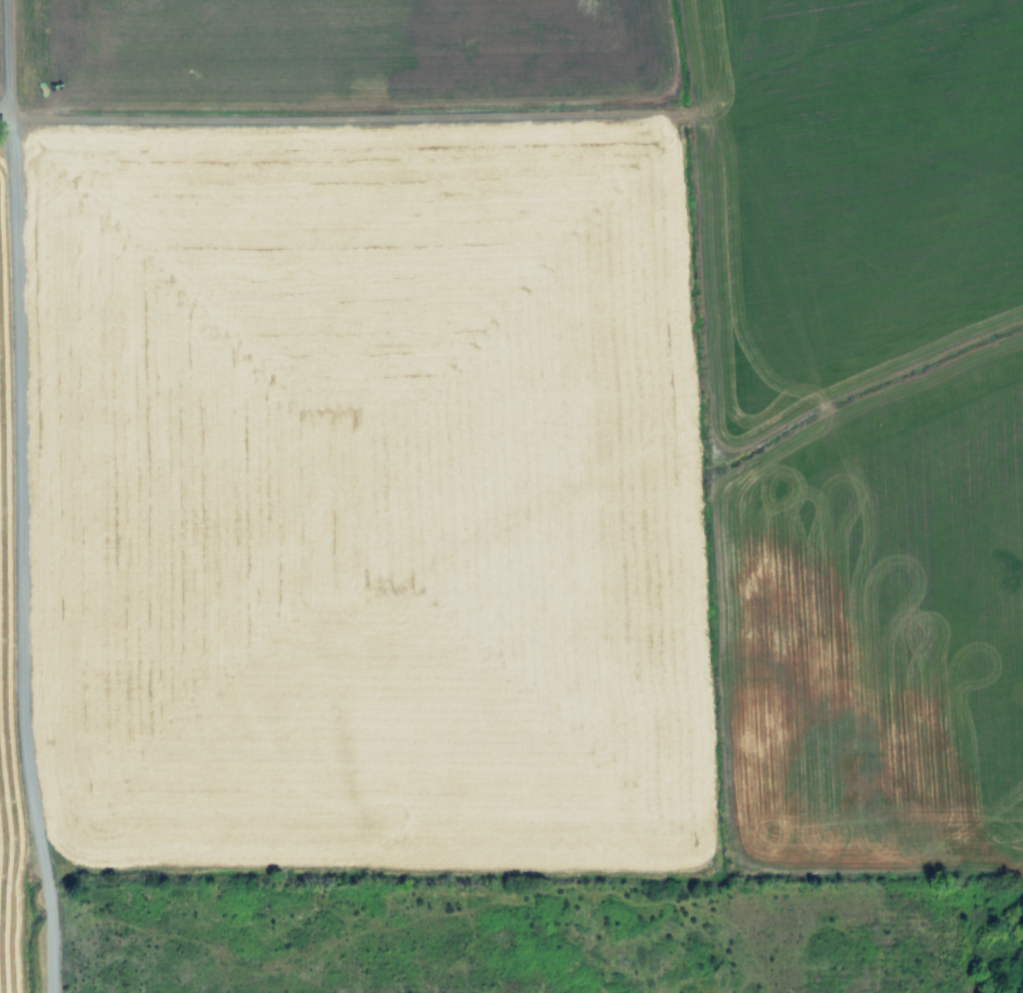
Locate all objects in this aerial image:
road: (7, 65)
crop: (511, 496)
road: (21, 559)

